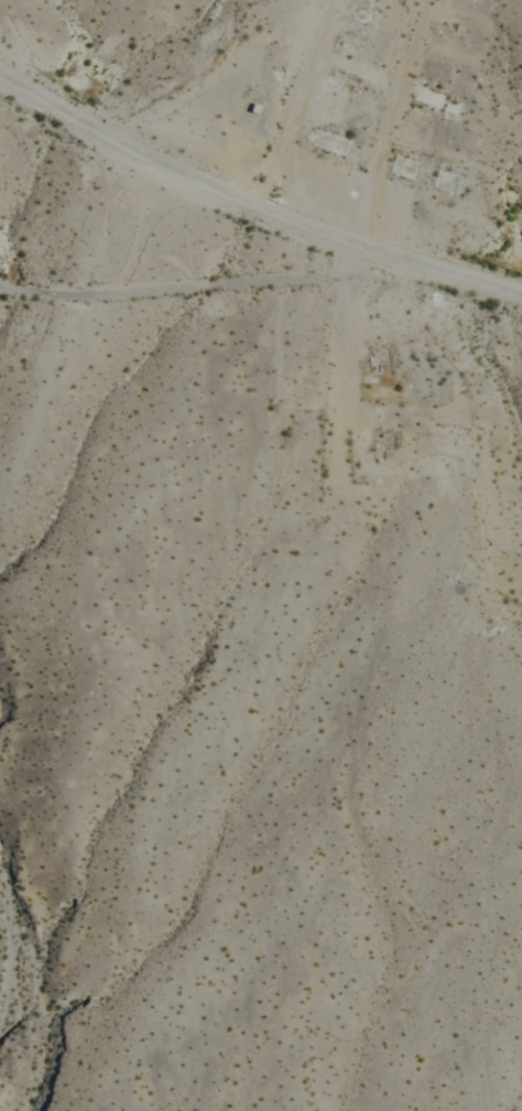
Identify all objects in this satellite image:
building: (431, 98)
road: (286, 101)
road: (249, 203)

